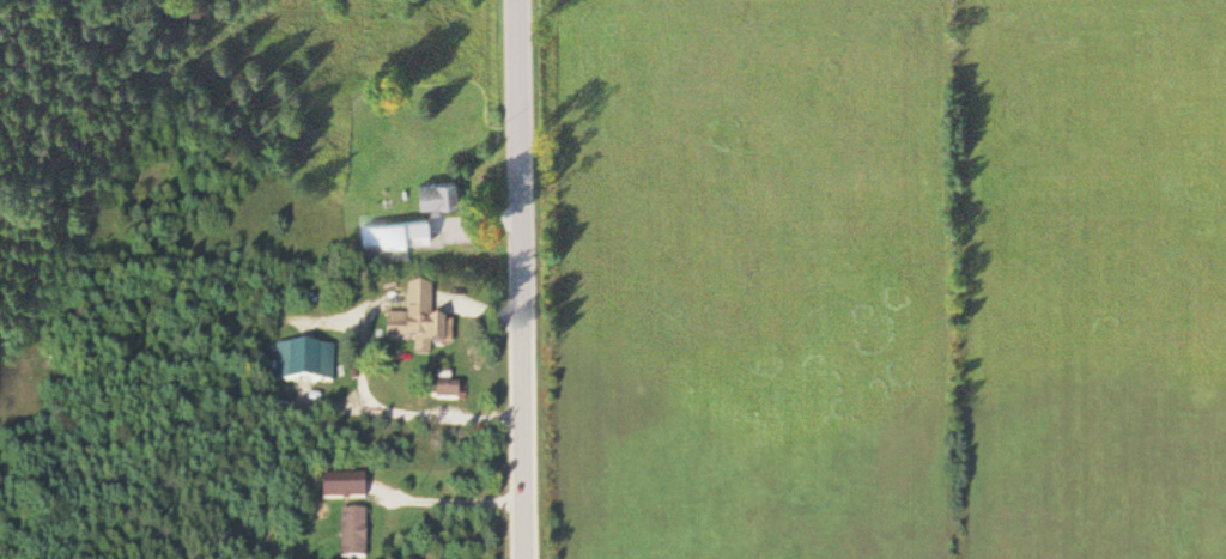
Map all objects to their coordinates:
building: (432, 190)
building: (411, 227)
road: (524, 279)
building: (411, 322)
building: (302, 363)
building: (339, 487)
building: (348, 534)

